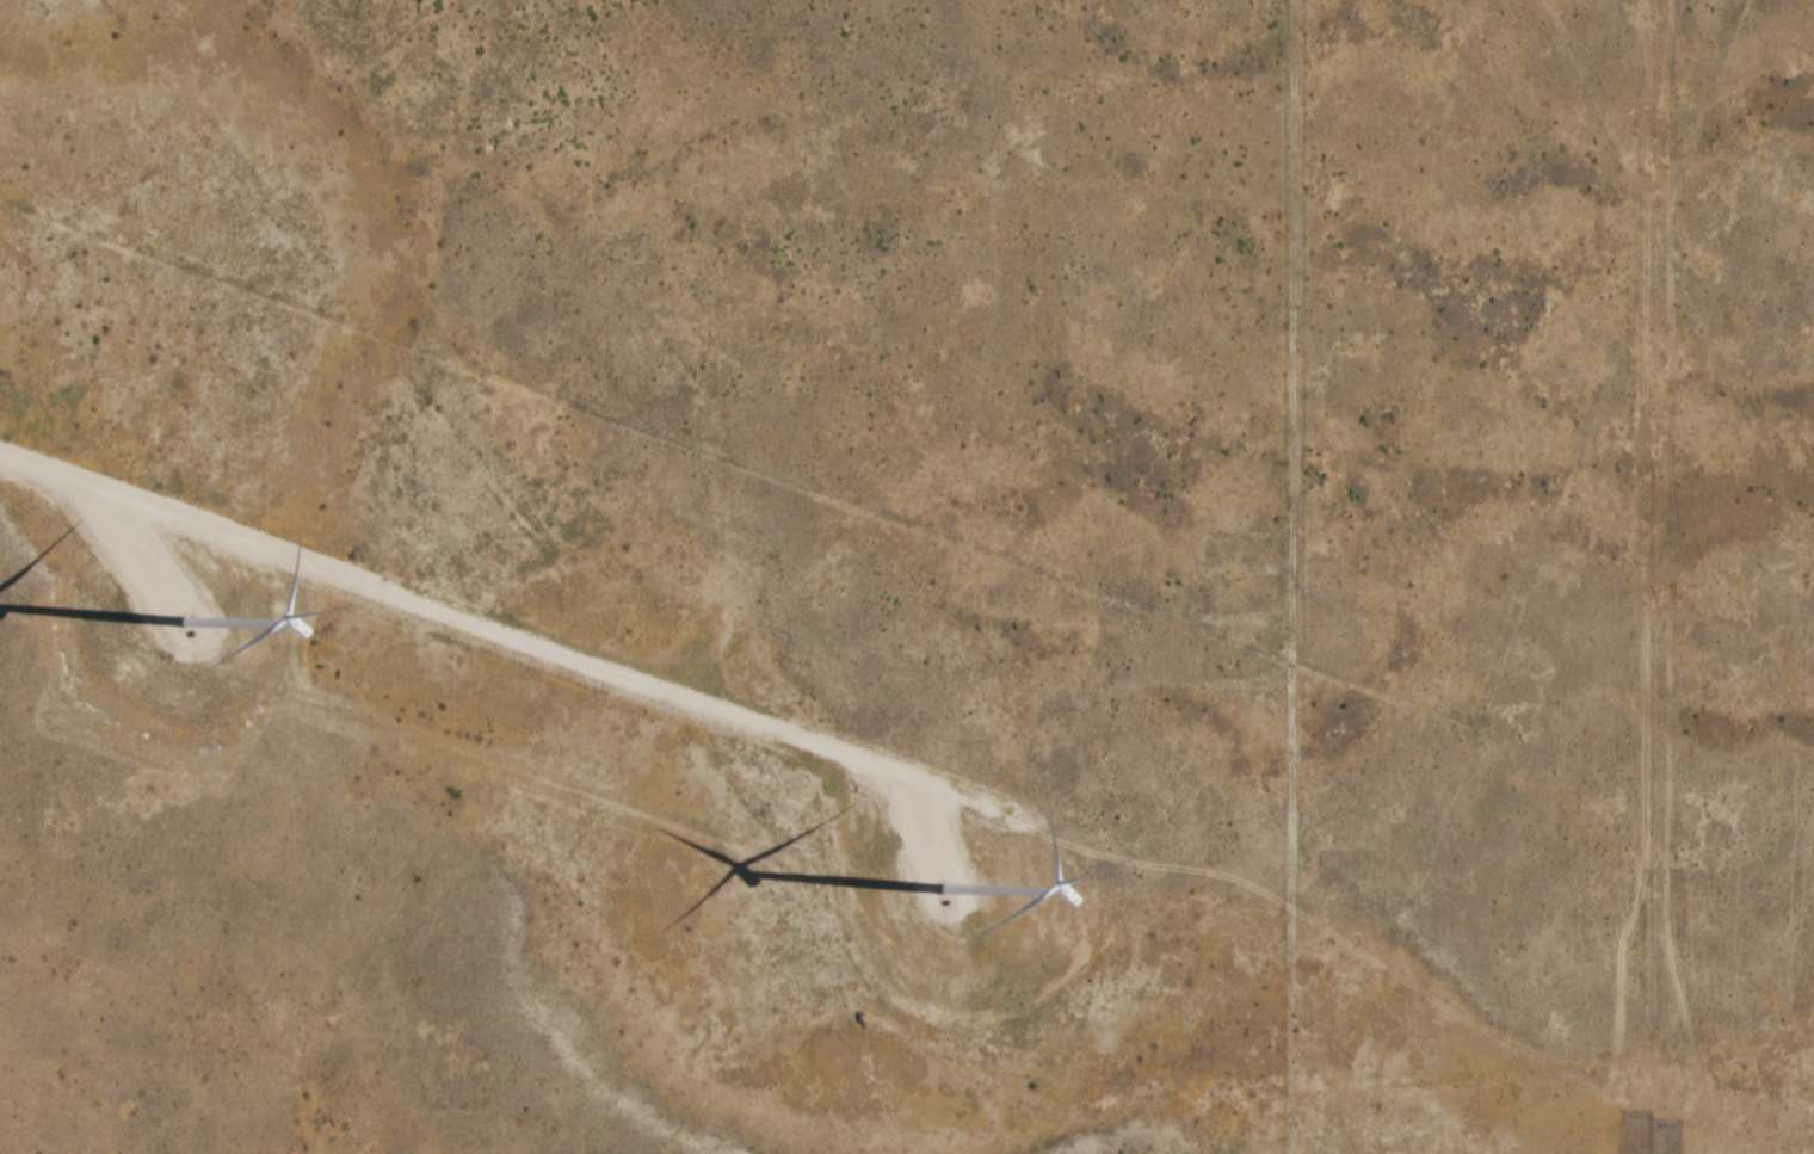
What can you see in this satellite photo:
wind turbine: (190, 609)
wind turbine: (946, 900)

